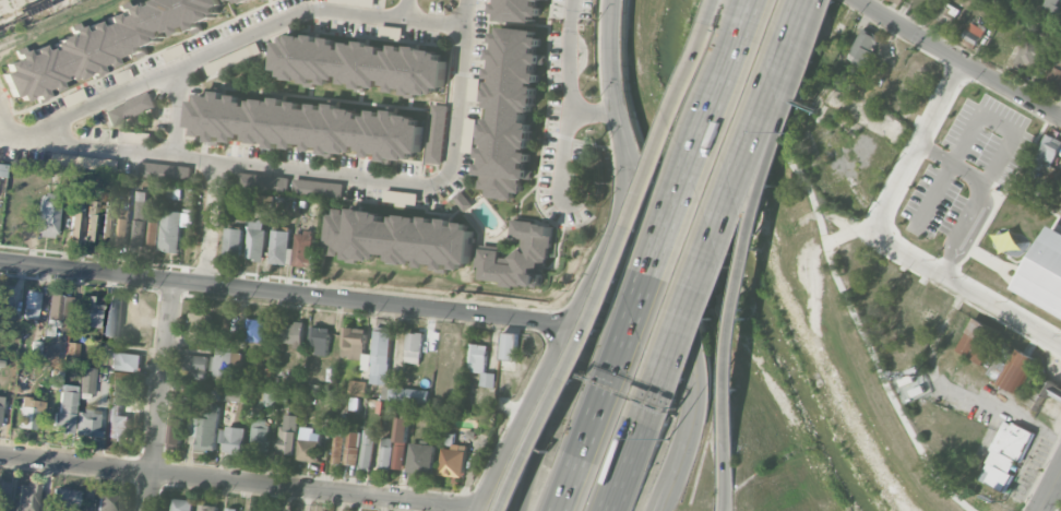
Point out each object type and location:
building: (238, 0)
building: (264, 0)
building: (889, 0)
building: (1054, 4)
building: (518, 9)
building: (947, 13)
road: (433, 20)
building: (974, 33)
building: (103, 45)
building: (861, 48)
road: (569, 54)
road: (205, 55)
building: (1032, 55)
road: (954, 58)
building: (361, 64)
building: (1053, 72)
building: (474, 87)
road: (617, 96)
road: (596, 107)
building: (130, 108)
road: (2, 110)
road: (177, 110)
building: (510, 111)
building: (307, 126)
road: (1012, 129)
building: (436, 133)
building: (467, 134)
building: (133, 136)
road: (916, 146)
road: (561, 150)
building: (1048, 150)
road: (692, 158)
building: (83, 162)
building: (2, 170)
building: (165, 170)
road: (330, 175)
road: (736, 175)
building: (262, 181)
building: (317, 188)
building: (264, 200)
building: (463, 200)
building: (78, 204)
road: (753, 214)
building: (48, 215)
building: (141, 217)
building: (92, 221)
road: (210, 221)
building: (107, 222)
building: (75, 225)
building: (174, 228)
road: (845, 230)
building: (122, 231)
building: (154, 234)
building: (400, 238)
building: (257, 239)
building: (234, 241)
building: (281, 246)
building: (305, 248)
road: (598, 252)
building: (518, 258)
road: (620, 259)
road: (610, 261)
road: (831, 269)
building: (1045, 273)
road: (965, 287)
road: (284, 290)
building: (899, 293)
building: (4, 301)
building: (32, 305)
building: (93, 310)
building: (59, 311)
building: (928, 313)
building: (111, 319)
building: (199, 326)
building: (255, 330)
building: (291, 333)
building: (3, 335)
building: (320, 338)
building: (976, 338)
building: (354, 342)
building: (509, 345)
building: (414, 346)
building: (72, 348)
building: (36, 349)
road: (689, 349)
building: (50, 352)
building: (381, 357)
building: (127, 360)
building: (194, 361)
building: (225, 361)
building: (480, 364)
building: (1017, 370)
building: (200, 373)
building: (266, 375)
building: (87, 380)
building: (357, 388)
building: (233, 390)
building: (406, 394)
road: (160, 395)
building: (267, 396)
building: (1034, 397)
building: (63, 402)
building: (0, 405)
building: (29, 412)
road: (593, 414)
road: (518, 415)
road: (543, 416)
building: (118, 423)
building: (87, 424)
building: (177, 426)
building: (207, 429)
road: (637, 430)
building: (260, 436)
building: (287, 436)
building: (233, 439)
building: (400, 442)
building: (309, 444)
building: (351, 448)
building: (367, 449)
building: (386, 453)
building: (1005, 455)
building: (420, 457)
building: (453, 461)
road: (724, 471)
road: (237, 483)
road: (1051, 490)
building: (3, 495)
building: (27, 497)
building: (65, 497)
building: (108, 501)
building: (182, 504)
building: (206, 507)
road: (1050, 508)
building: (230, 509)
building: (248, 510)
road: (1041, 510)

